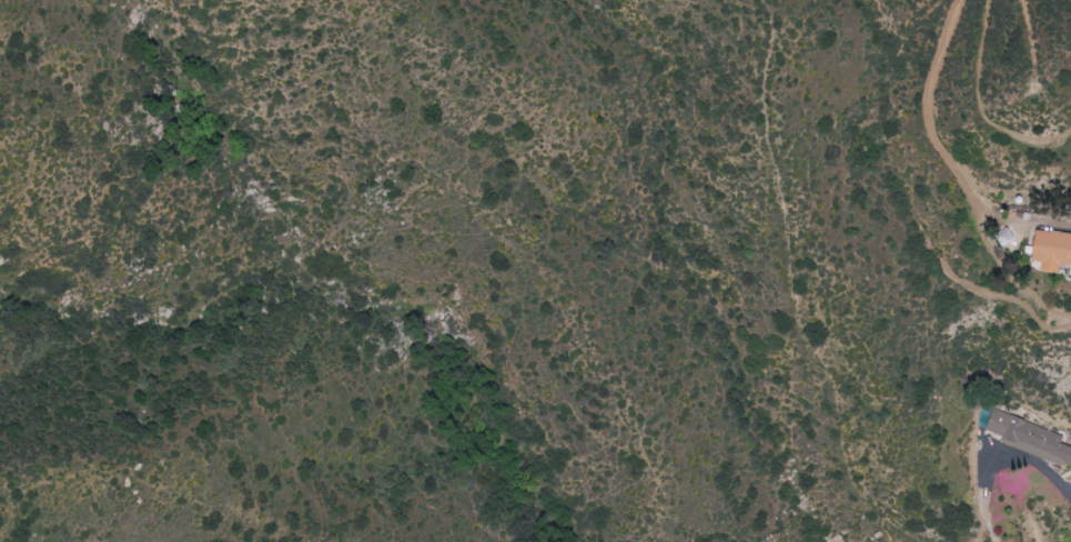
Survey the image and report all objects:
building: (1053, 251)
road: (1057, 476)

